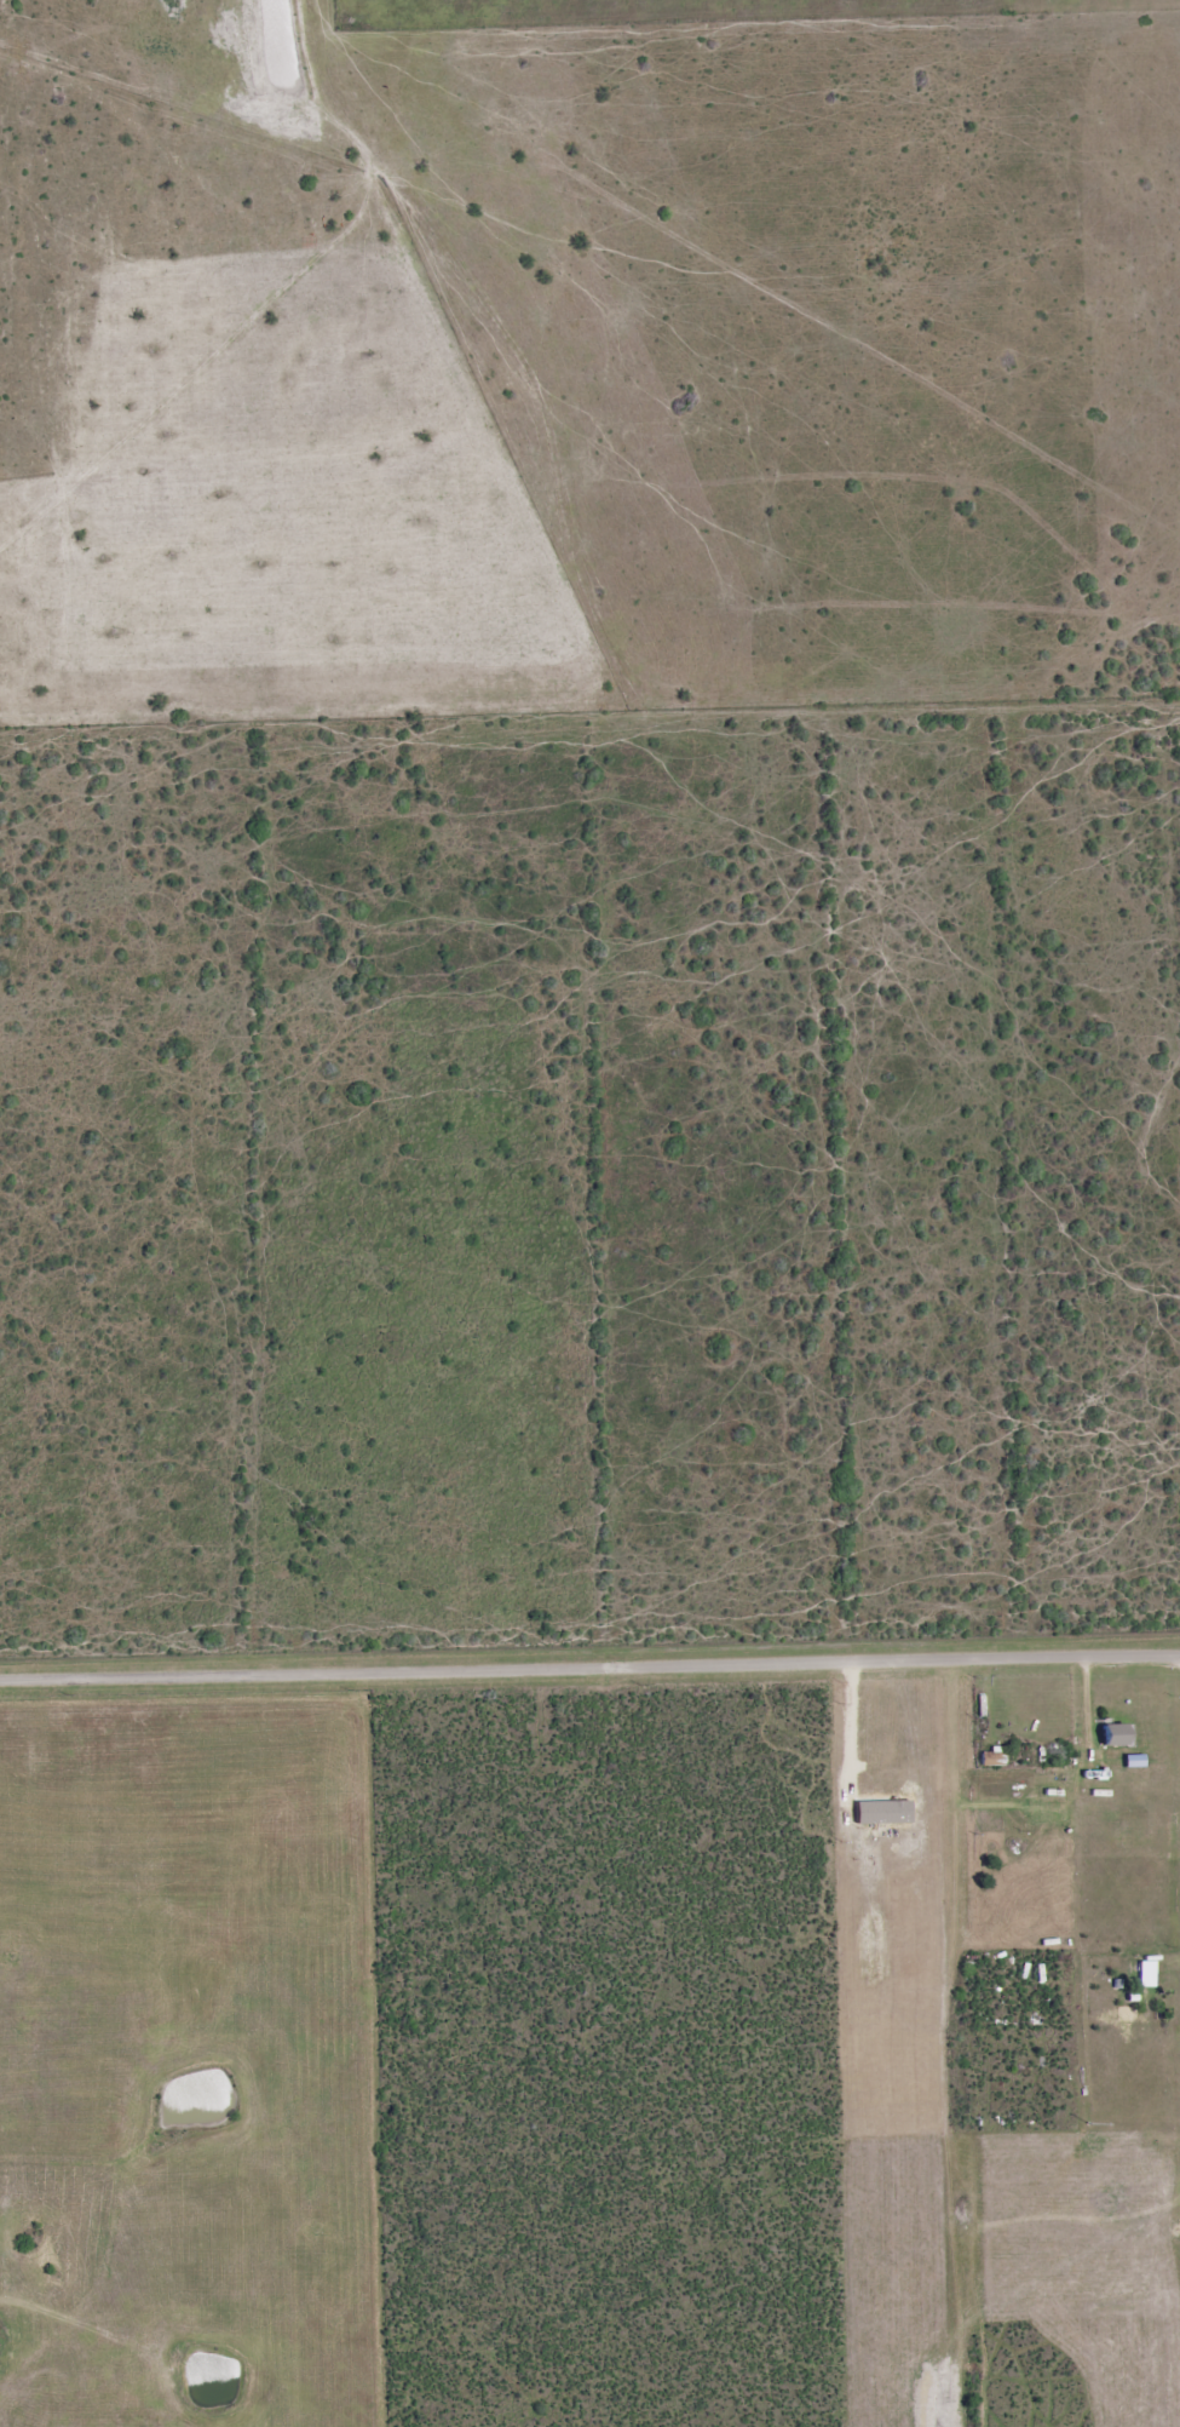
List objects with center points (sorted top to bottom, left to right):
road: (589, 1663)
building: (1113, 1735)
building: (994, 1758)
building: (1134, 1761)
building: (883, 1813)
building: (1146, 1974)

